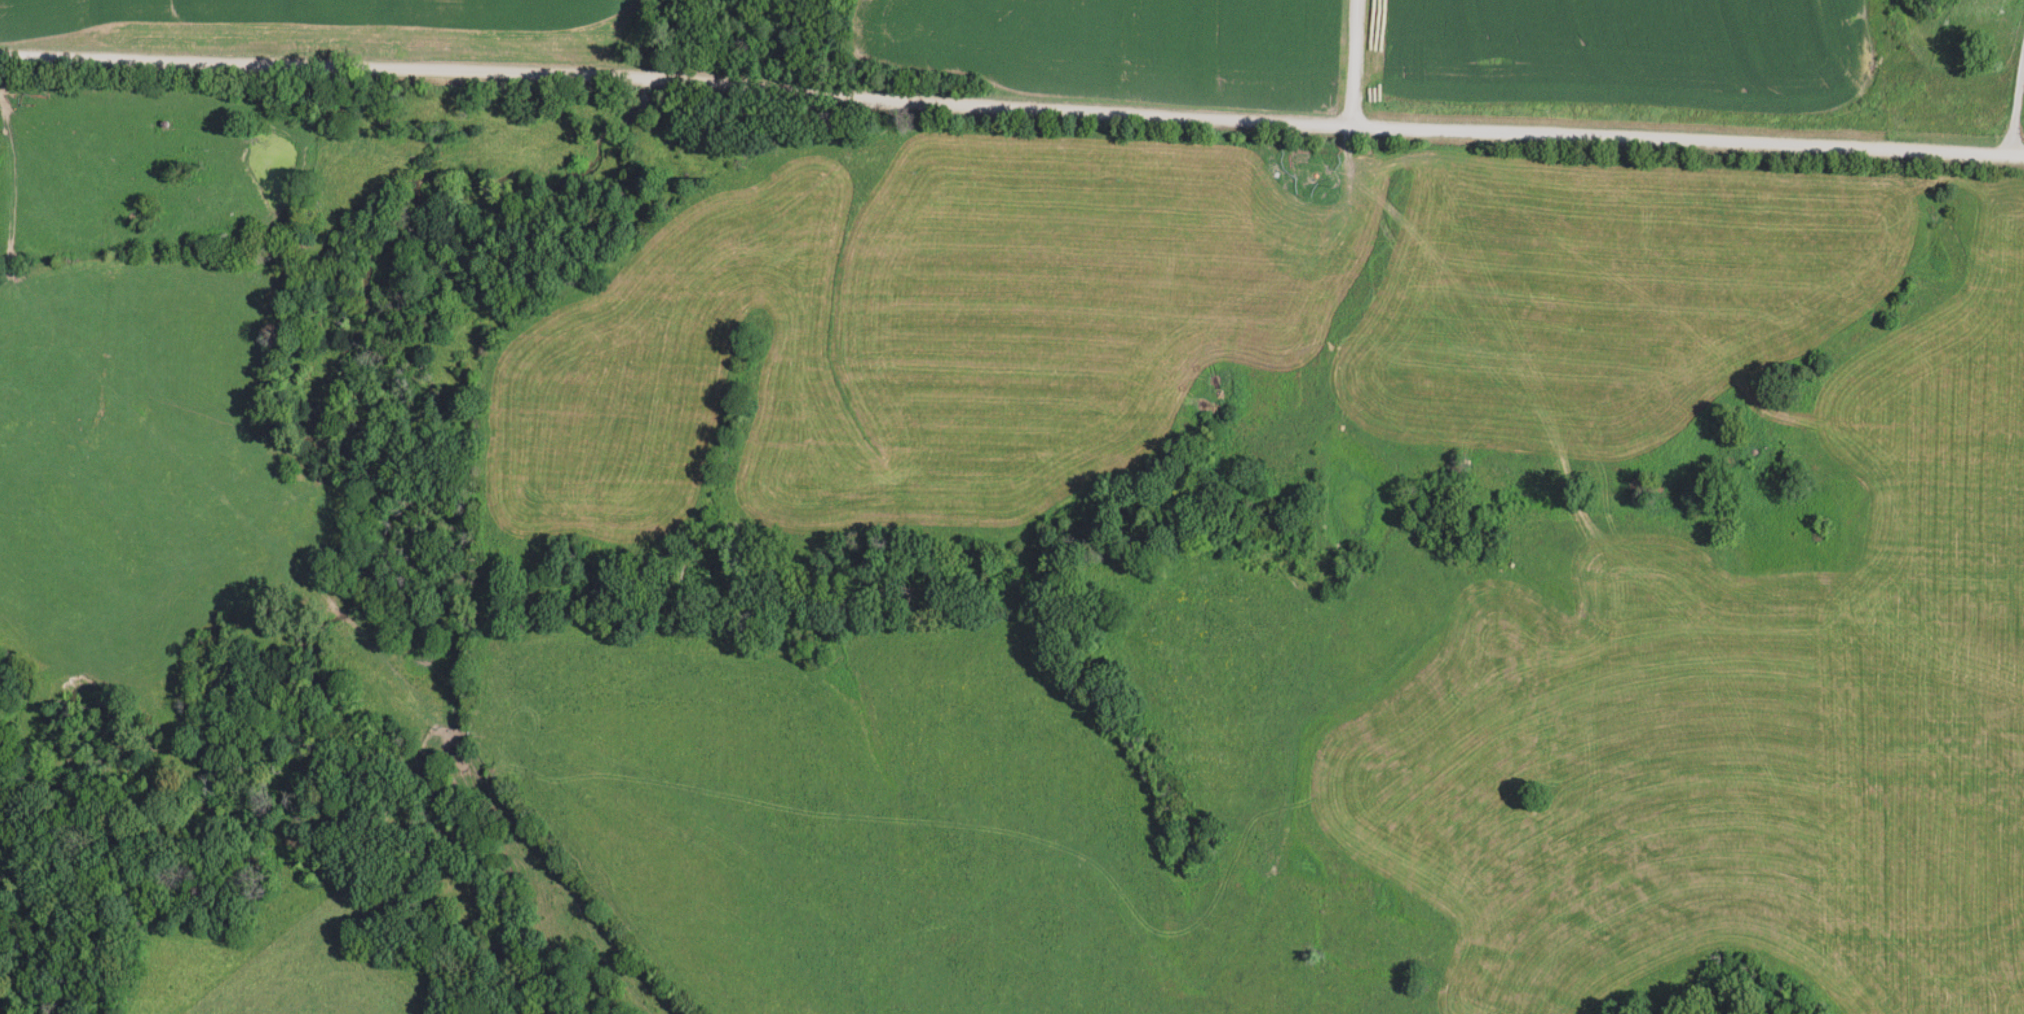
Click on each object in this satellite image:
road: (1349, 63)
road: (2014, 92)
road: (1011, 109)

